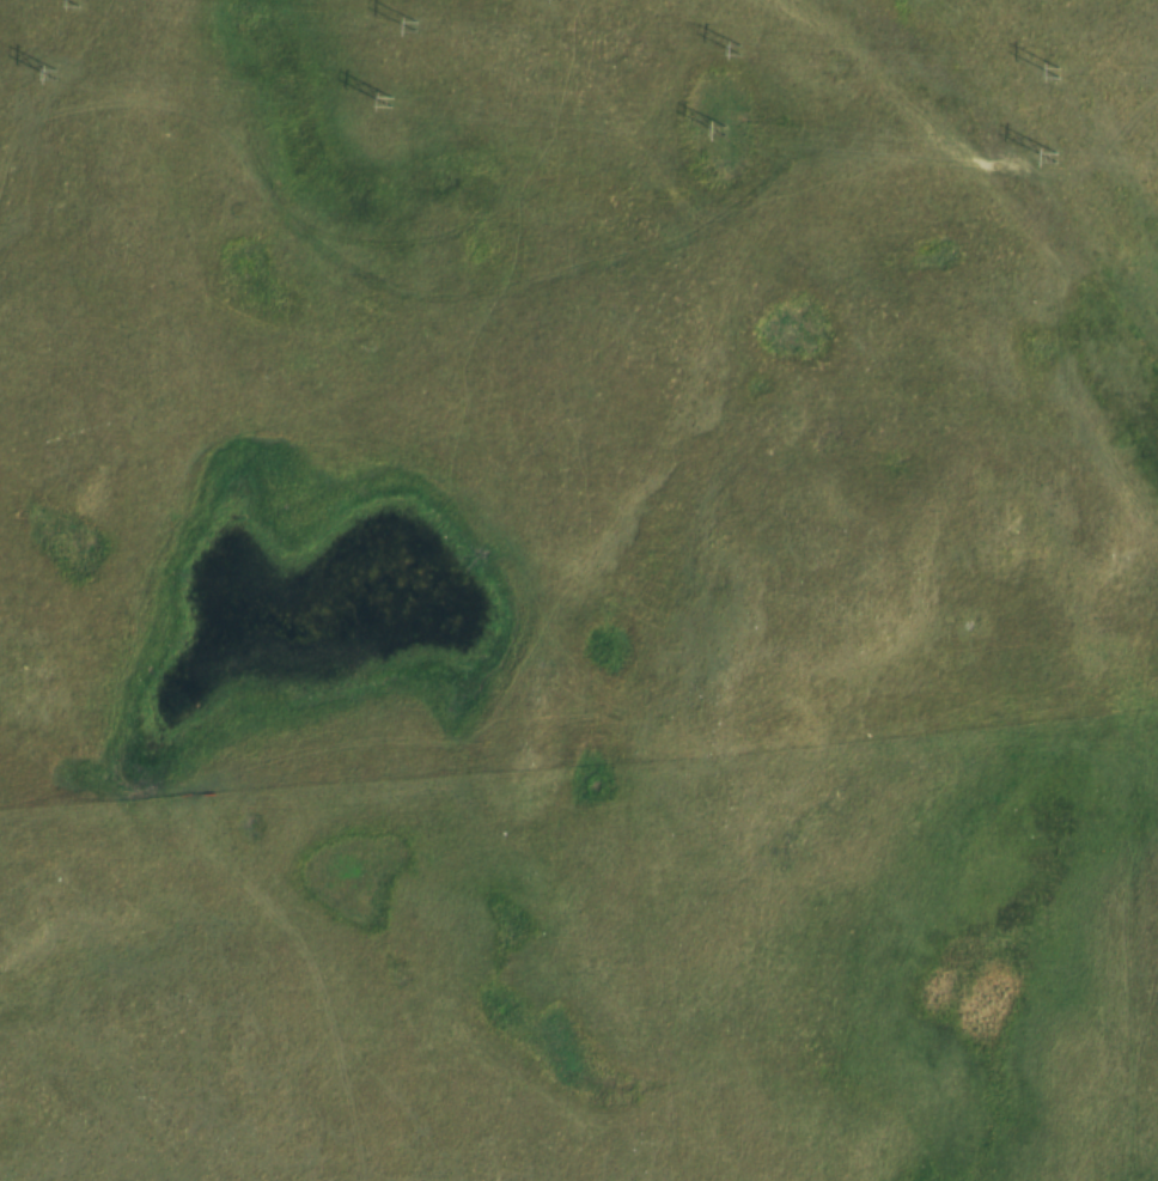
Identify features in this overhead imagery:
power tower: (75, 0)
power tower: (416, 26)
power tower: (733, 48)
power tower: (55, 74)
power tower: (1060, 74)
power tower: (390, 102)
power tower: (724, 129)
power tower: (1056, 159)

